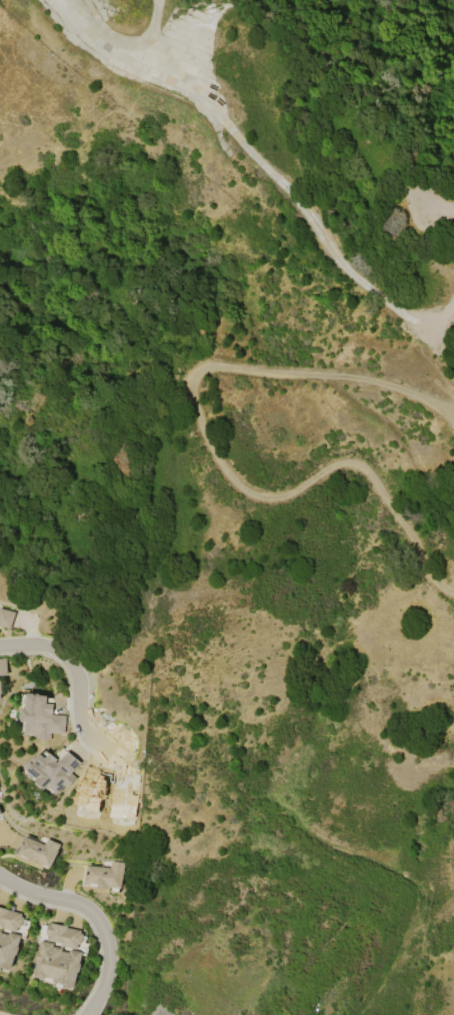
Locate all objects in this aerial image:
park: (89, 346)
road: (400, 438)
road: (220, 447)
building: (6, 619)
building: (3, 667)
road: (76, 676)
building: (0, 689)
building: (41, 718)
building: (54, 770)
building: (0, 813)
building: (0, 815)
building: (39, 851)
building: (106, 876)
road: (403, 883)
road: (94, 917)
building: (10, 920)
building: (64, 935)
building: (8, 949)
building: (58, 965)

